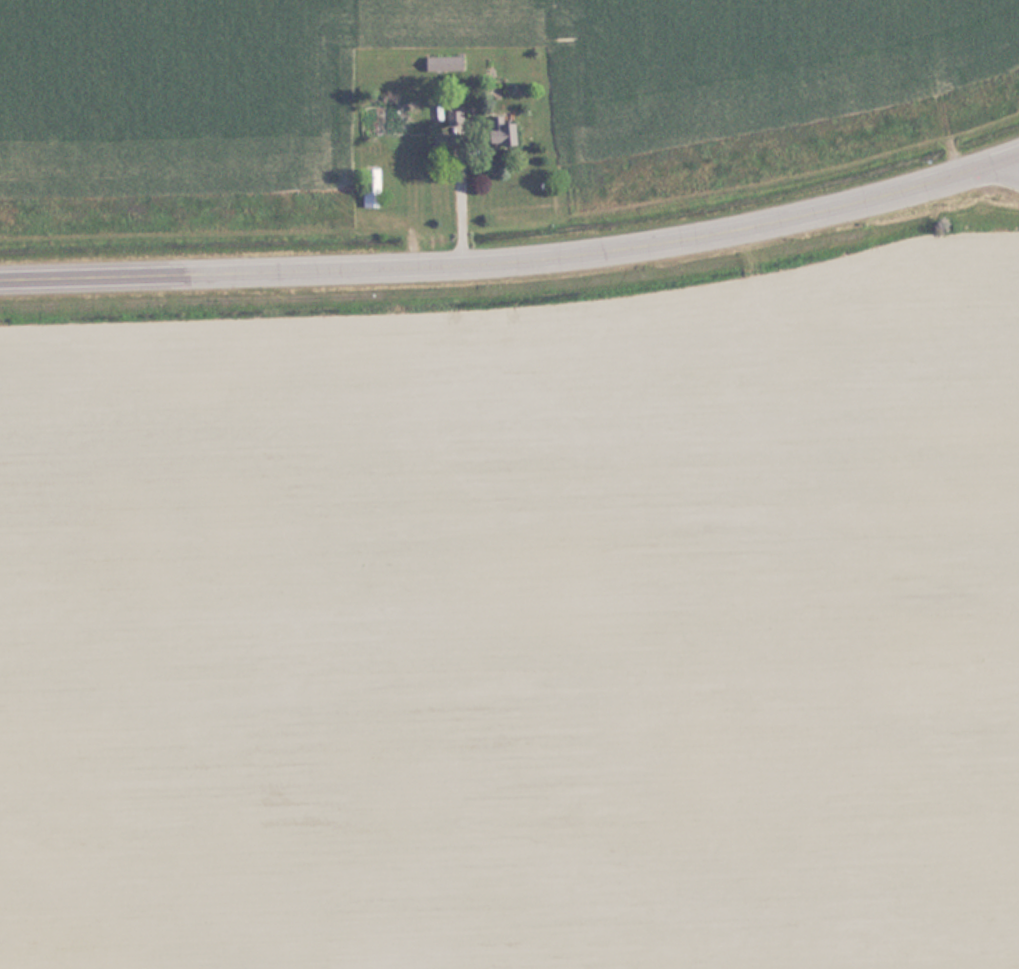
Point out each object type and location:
building: (447, 65)
building: (456, 119)
building: (395, 121)
building: (513, 133)
building: (375, 188)
road: (515, 260)

